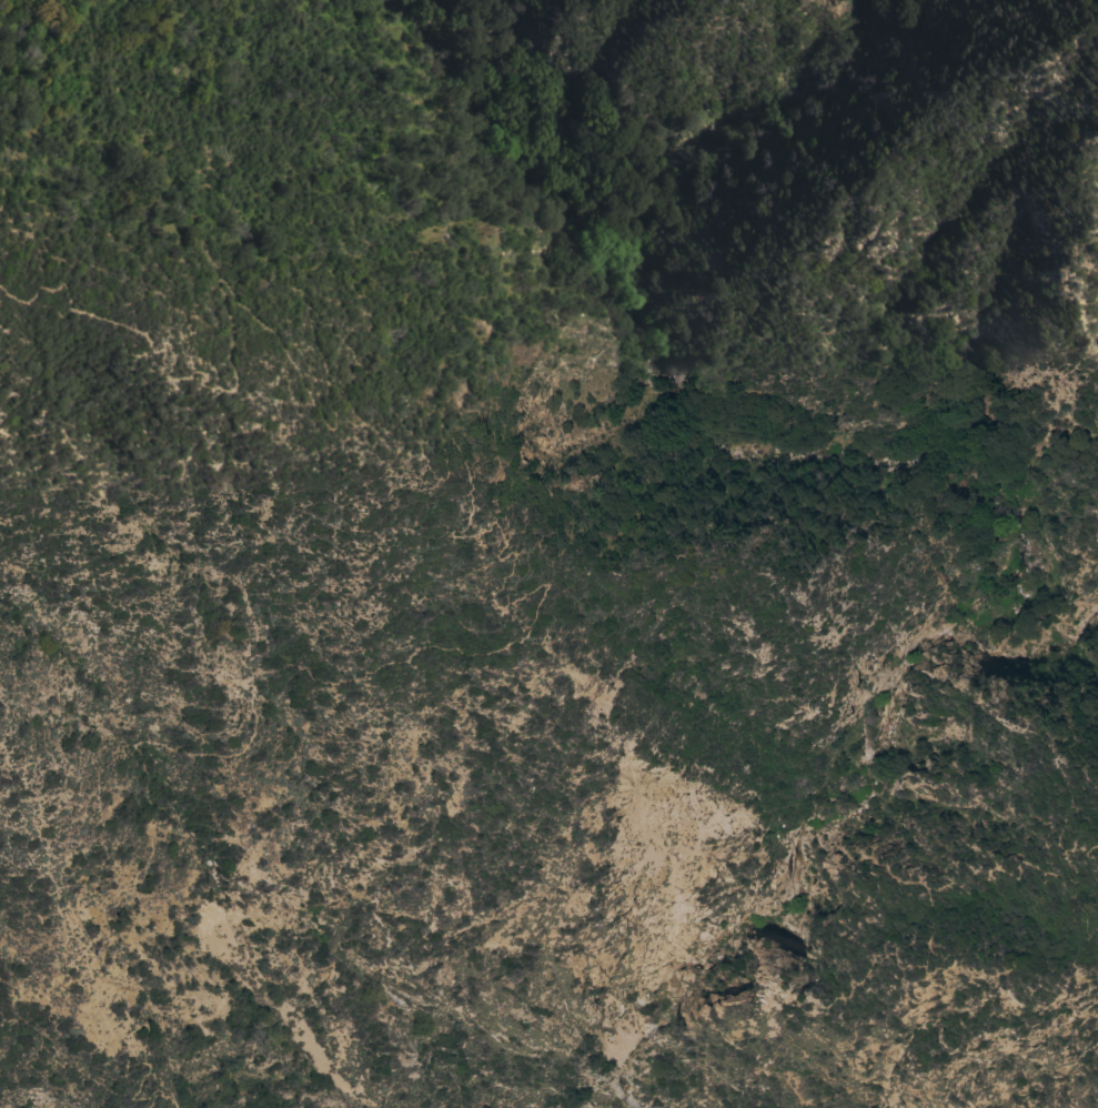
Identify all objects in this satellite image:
road: (464, 457)
road: (651, 548)
road: (1051, 748)
road: (919, 893)
road: (129, 1046)
road: (809, 1065)
road: (526, 1068)
road: (584, 1068)

